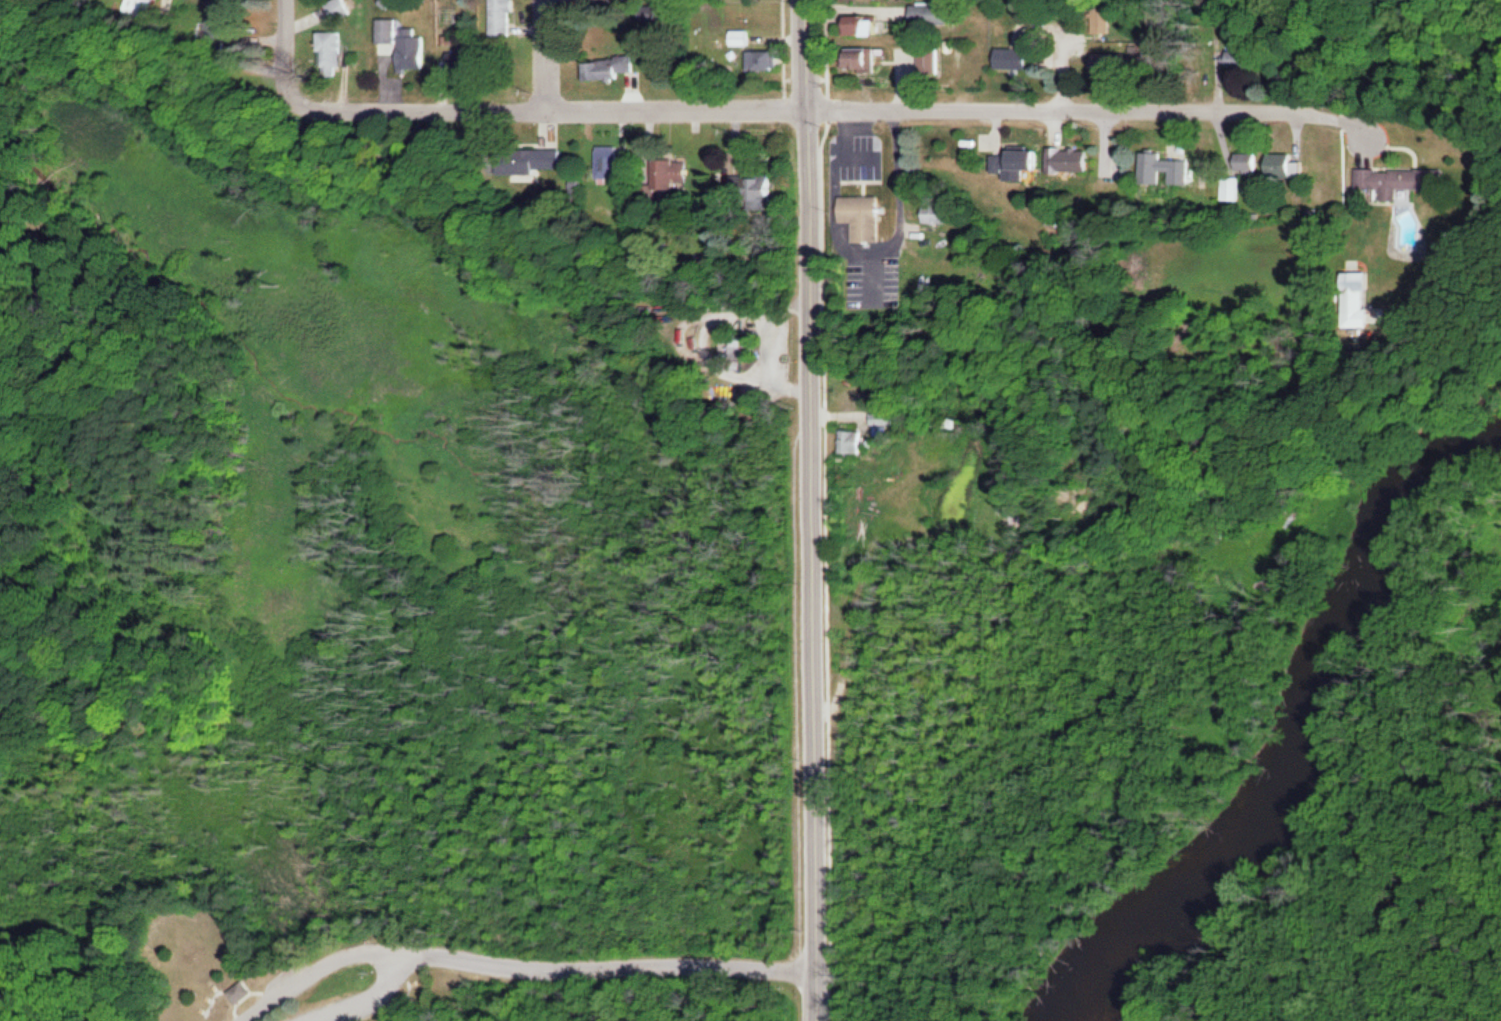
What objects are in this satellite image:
building: (601, 0)
building: (175, 6)
building: (156, 8)
building: (341, 8)
building: (935, 13)
building: (505, 17)
building: (229, 18)
building: (1101, 19)
building: (866, 25)
building: (389, 30)
building: (743, 36)
building: (336, 49)
building: (416, 49)
road: (1061, 54)
road: (546, 56)
building: (1240, 56)
road: (287, 57)
building: (865, 58)
building: (1015, 58)
building: (764, 60)
building: (931, 62)
building: (615, 68)
road: (1060, 108)
road: (558, 111)
building: (1072, 160)
building: (541, 161)
building: (1029, 163)
building: (614, 164)
building: (1288, 165)
building: (1167, 170)
building: (684, 173)
building: (1398, 180)
building: (757, 186)
building: (1232, 187)
road: (808, 208)
building: (942, 214)
building: (865, 216)
park: (392, 714)
road: (813, 718)
river: (1307, 724)
park: (1371, 804)
road: (357, 949)
road: (598, 967)
parking lot: (290, 986)
building: (239, 991)
parking lot: (335, 1010)

